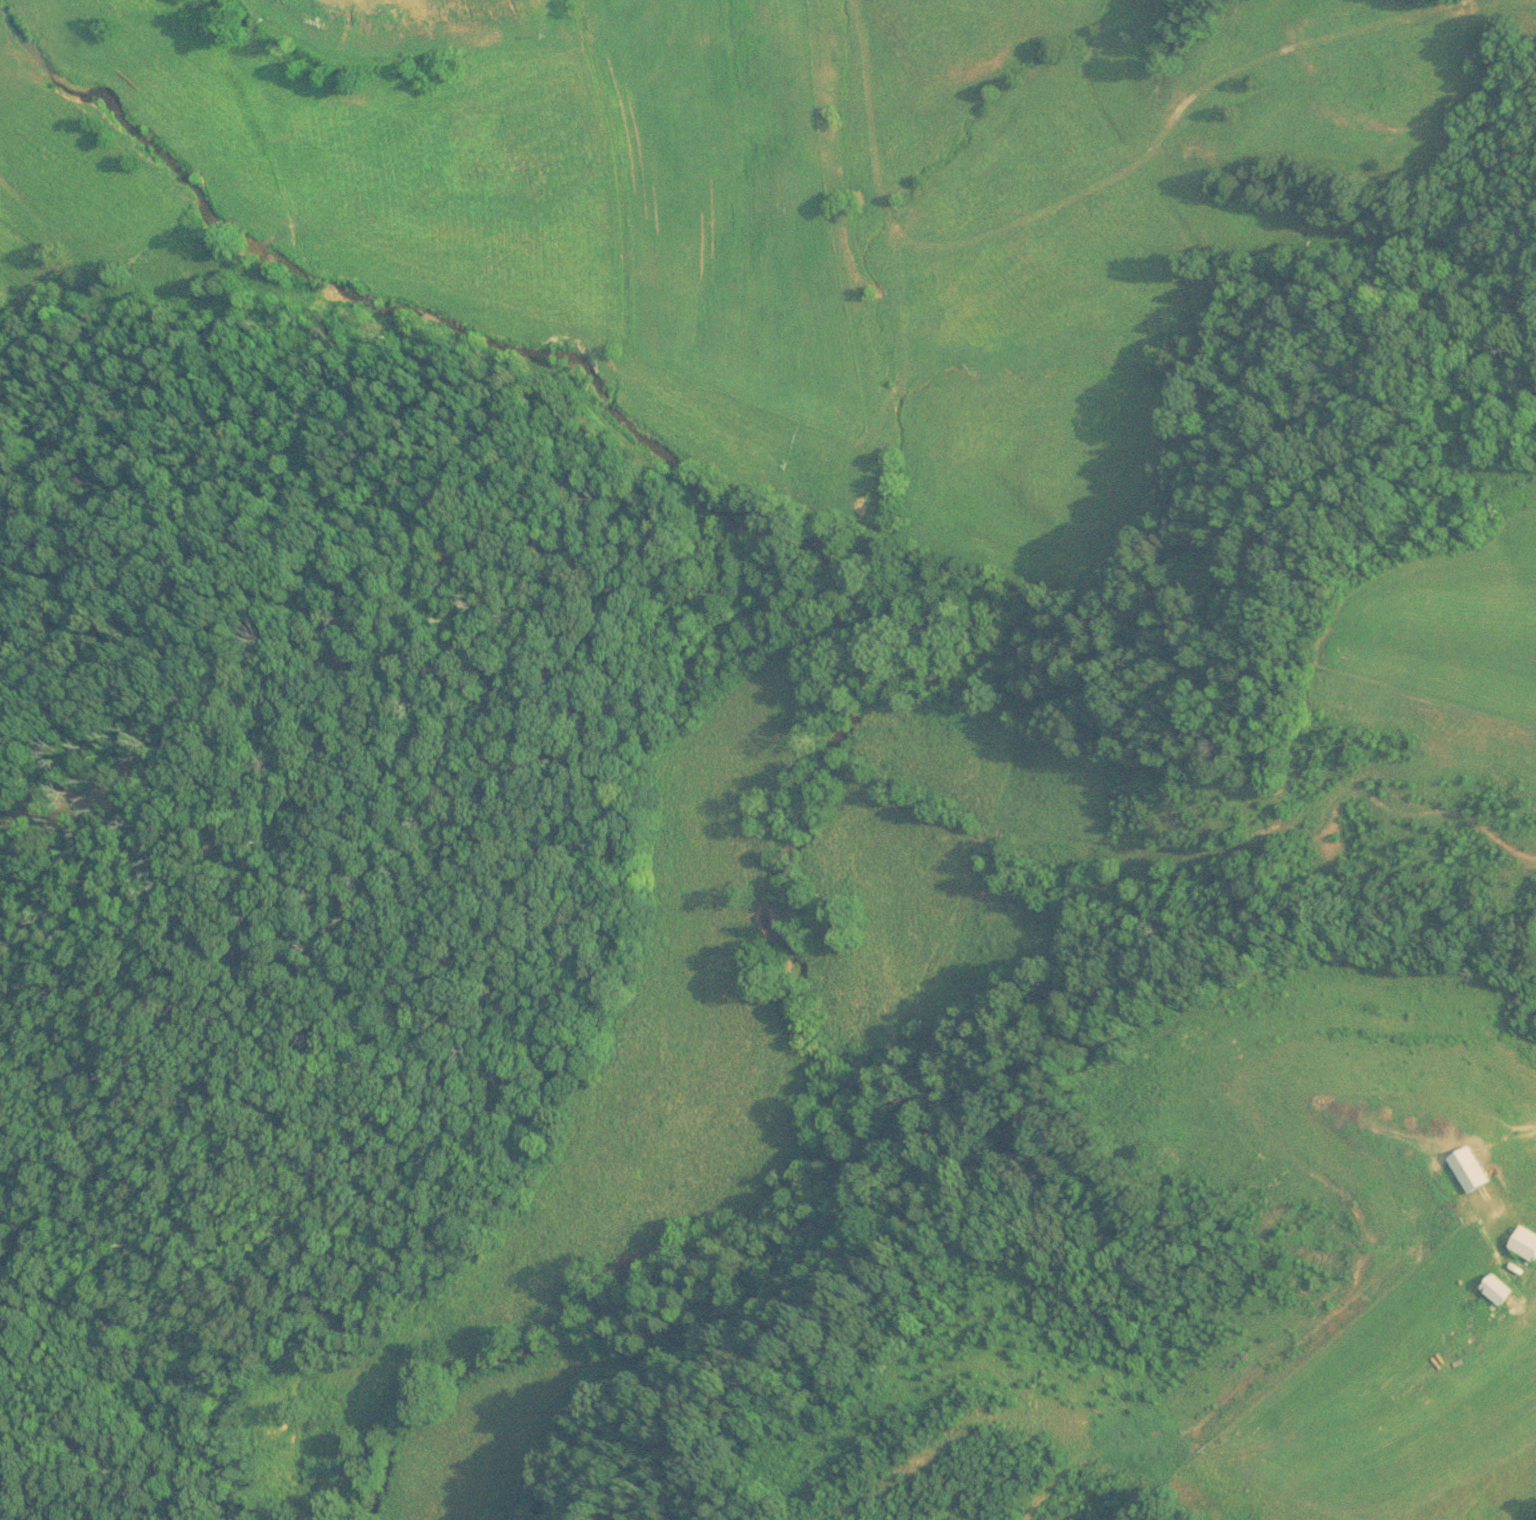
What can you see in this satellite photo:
building: (1465, 1170)
building: (1523, 1243)
building: (1494, 1290)

